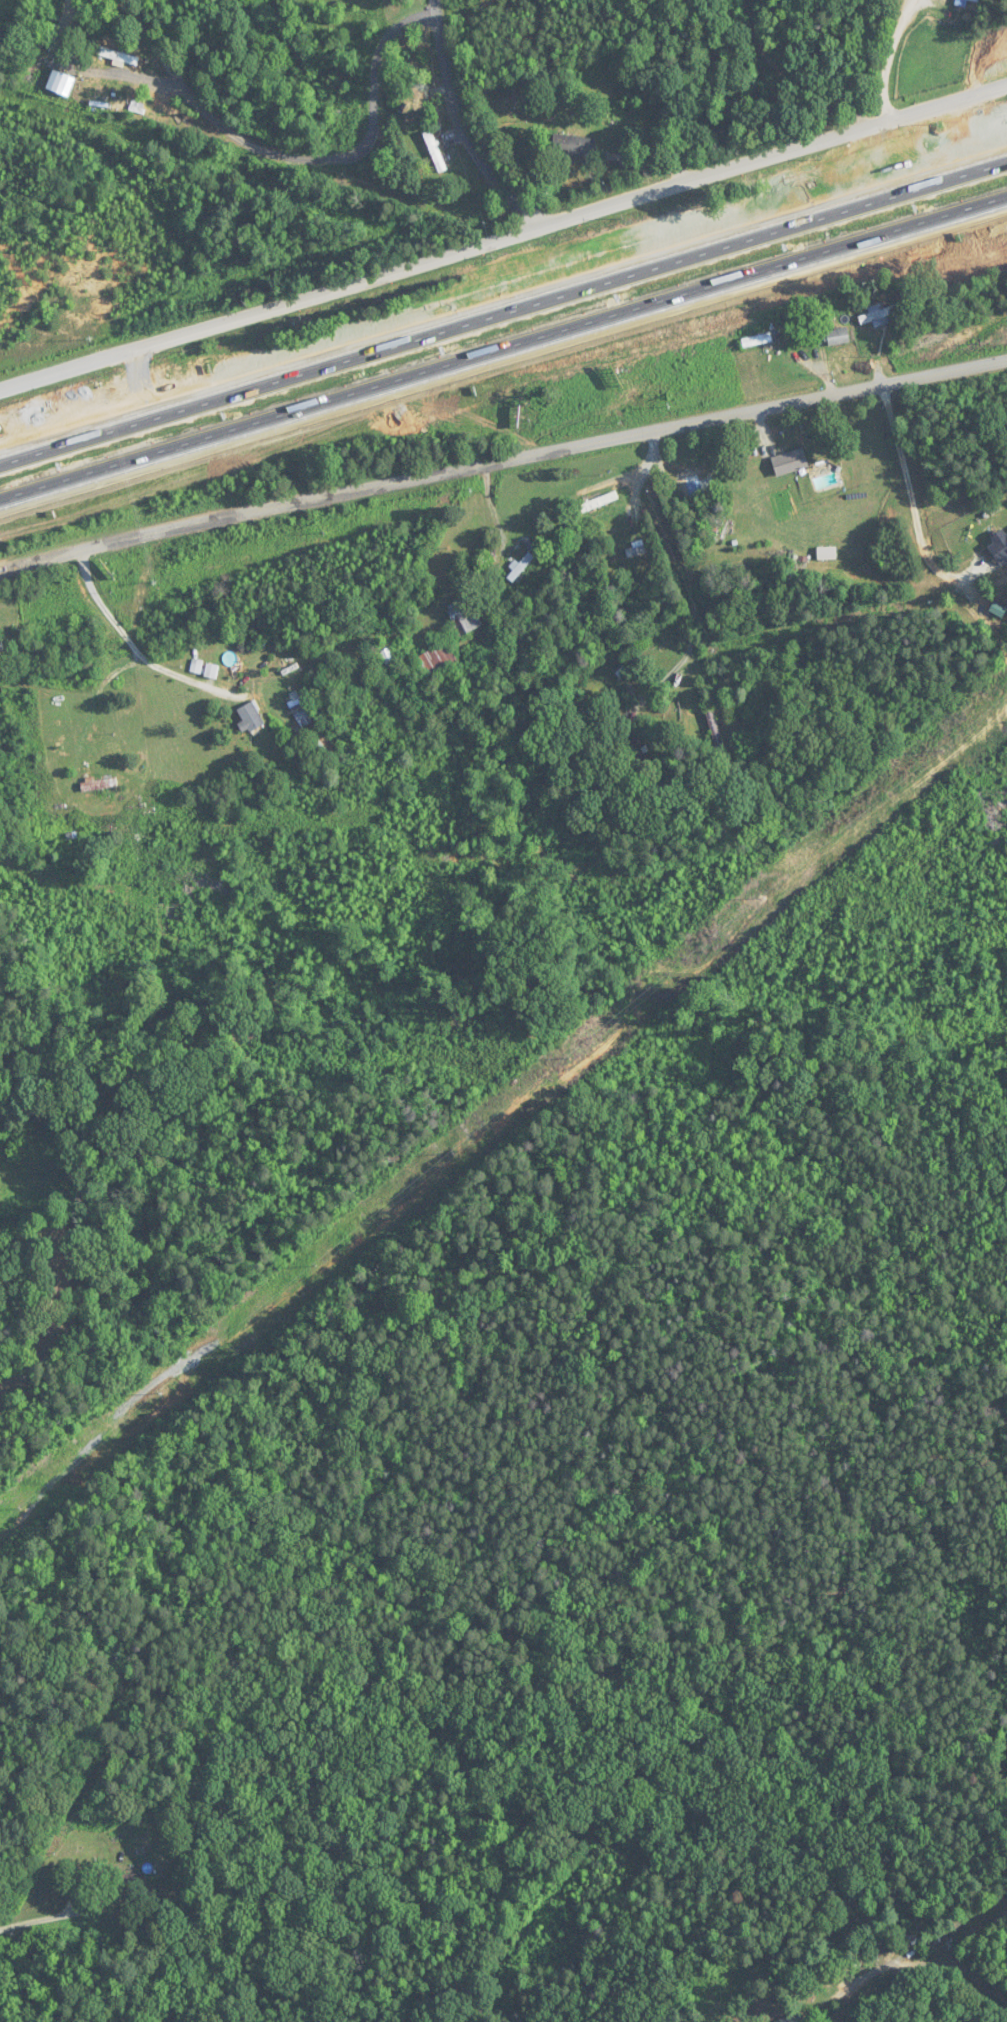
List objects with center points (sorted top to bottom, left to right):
road: (152, 43)
building: (107, 48)
road: (890, 61)
road: (93, 70)
building: (60, 84)
road: (956, 102)
road: (467, 126)
building: (573, 145)
building: (434, 152)
road: (348, 155)
road: (452, 259)
road: (503, 308)
building: (881, 316)
building: (837, 337)
building: (756, 341)
road: (503, 344)
building: (789, 462)
road: (502, 463)
road: (911, 502)
building: (999, 548)
building: (641, 550)
building: (520, 567)
road: (688, 569)
building: (463, 616)
building: (1, 647)
road: (132, 647)
building: (388, 656)
building: (631, 666)
building: (196, 667)
building: (428, 668)
building: (211, 671)
building: (301, 715)
building: (249, 717)
building: (714, 731)
building: (98, 784)
building: (131, 1890)
road: (829, 1932)
building: (905, 1941)
road: (948, 1963)

